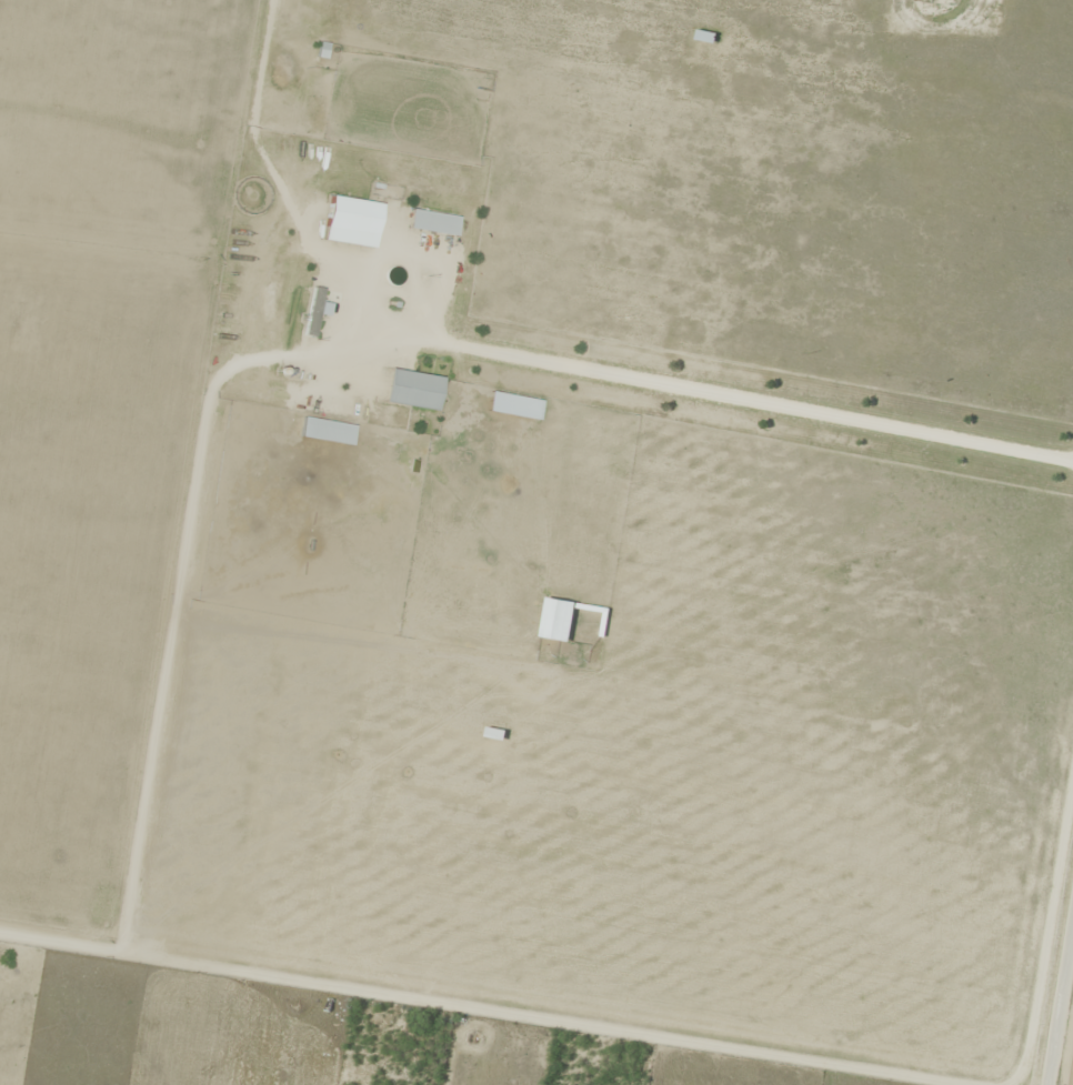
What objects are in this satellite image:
road: (1057, 986)

